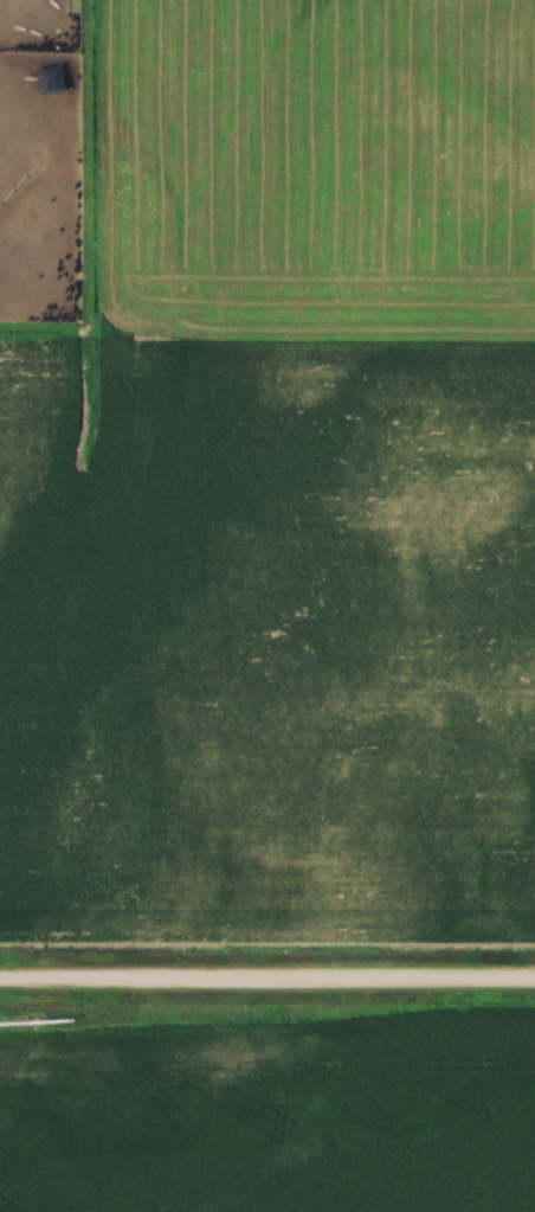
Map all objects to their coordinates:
road: (267, 983)

